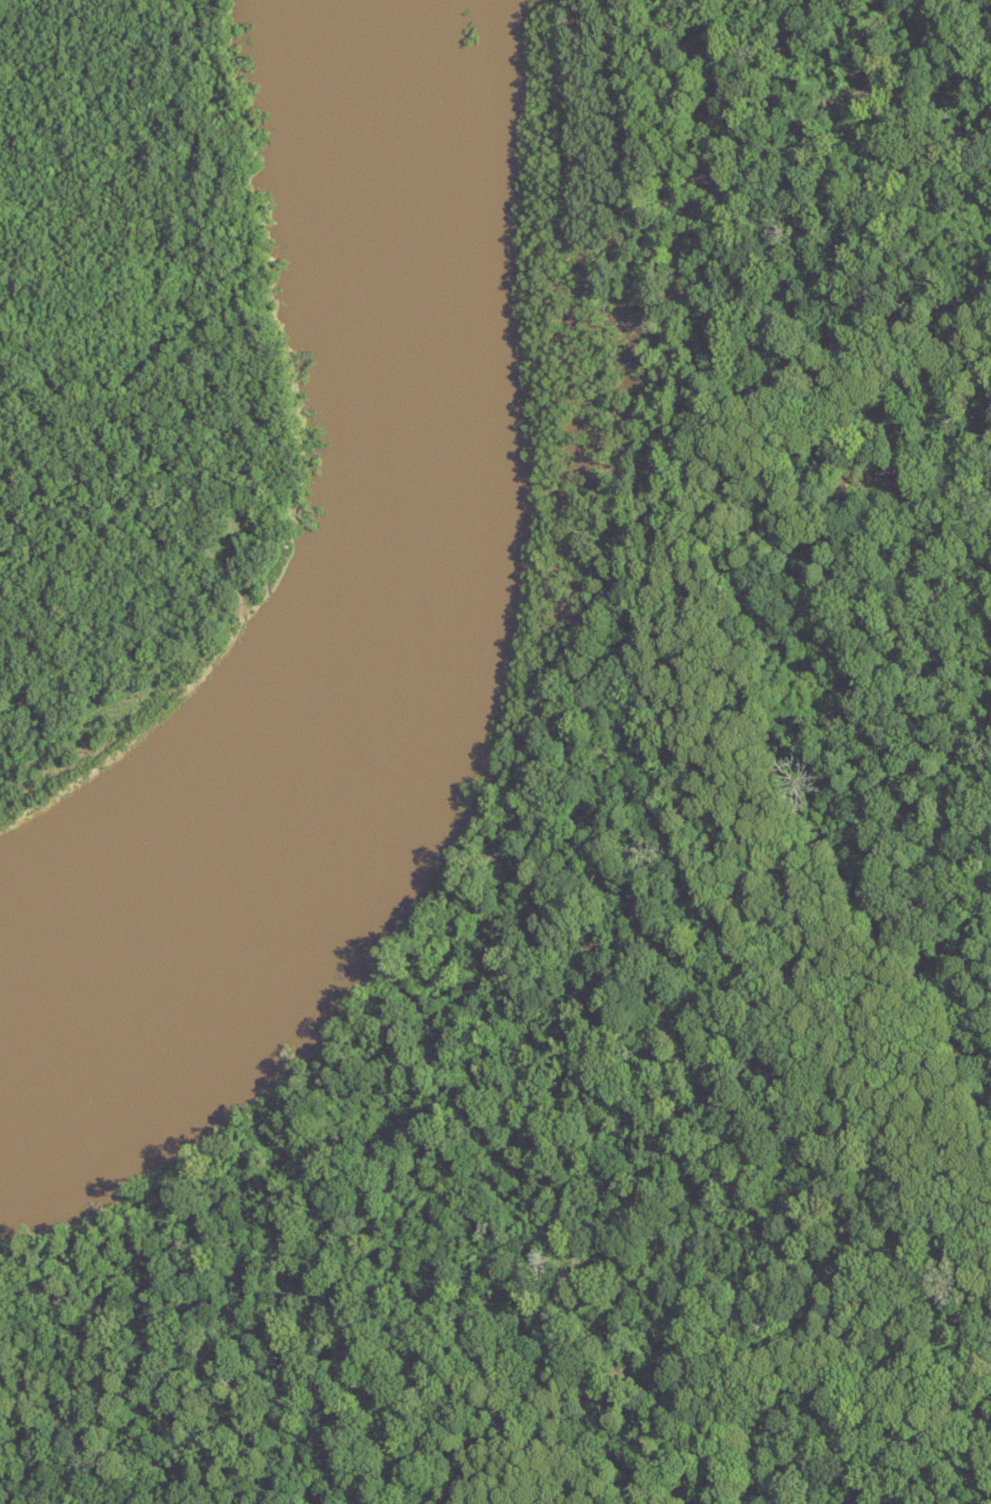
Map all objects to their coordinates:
river: (392, 596)

